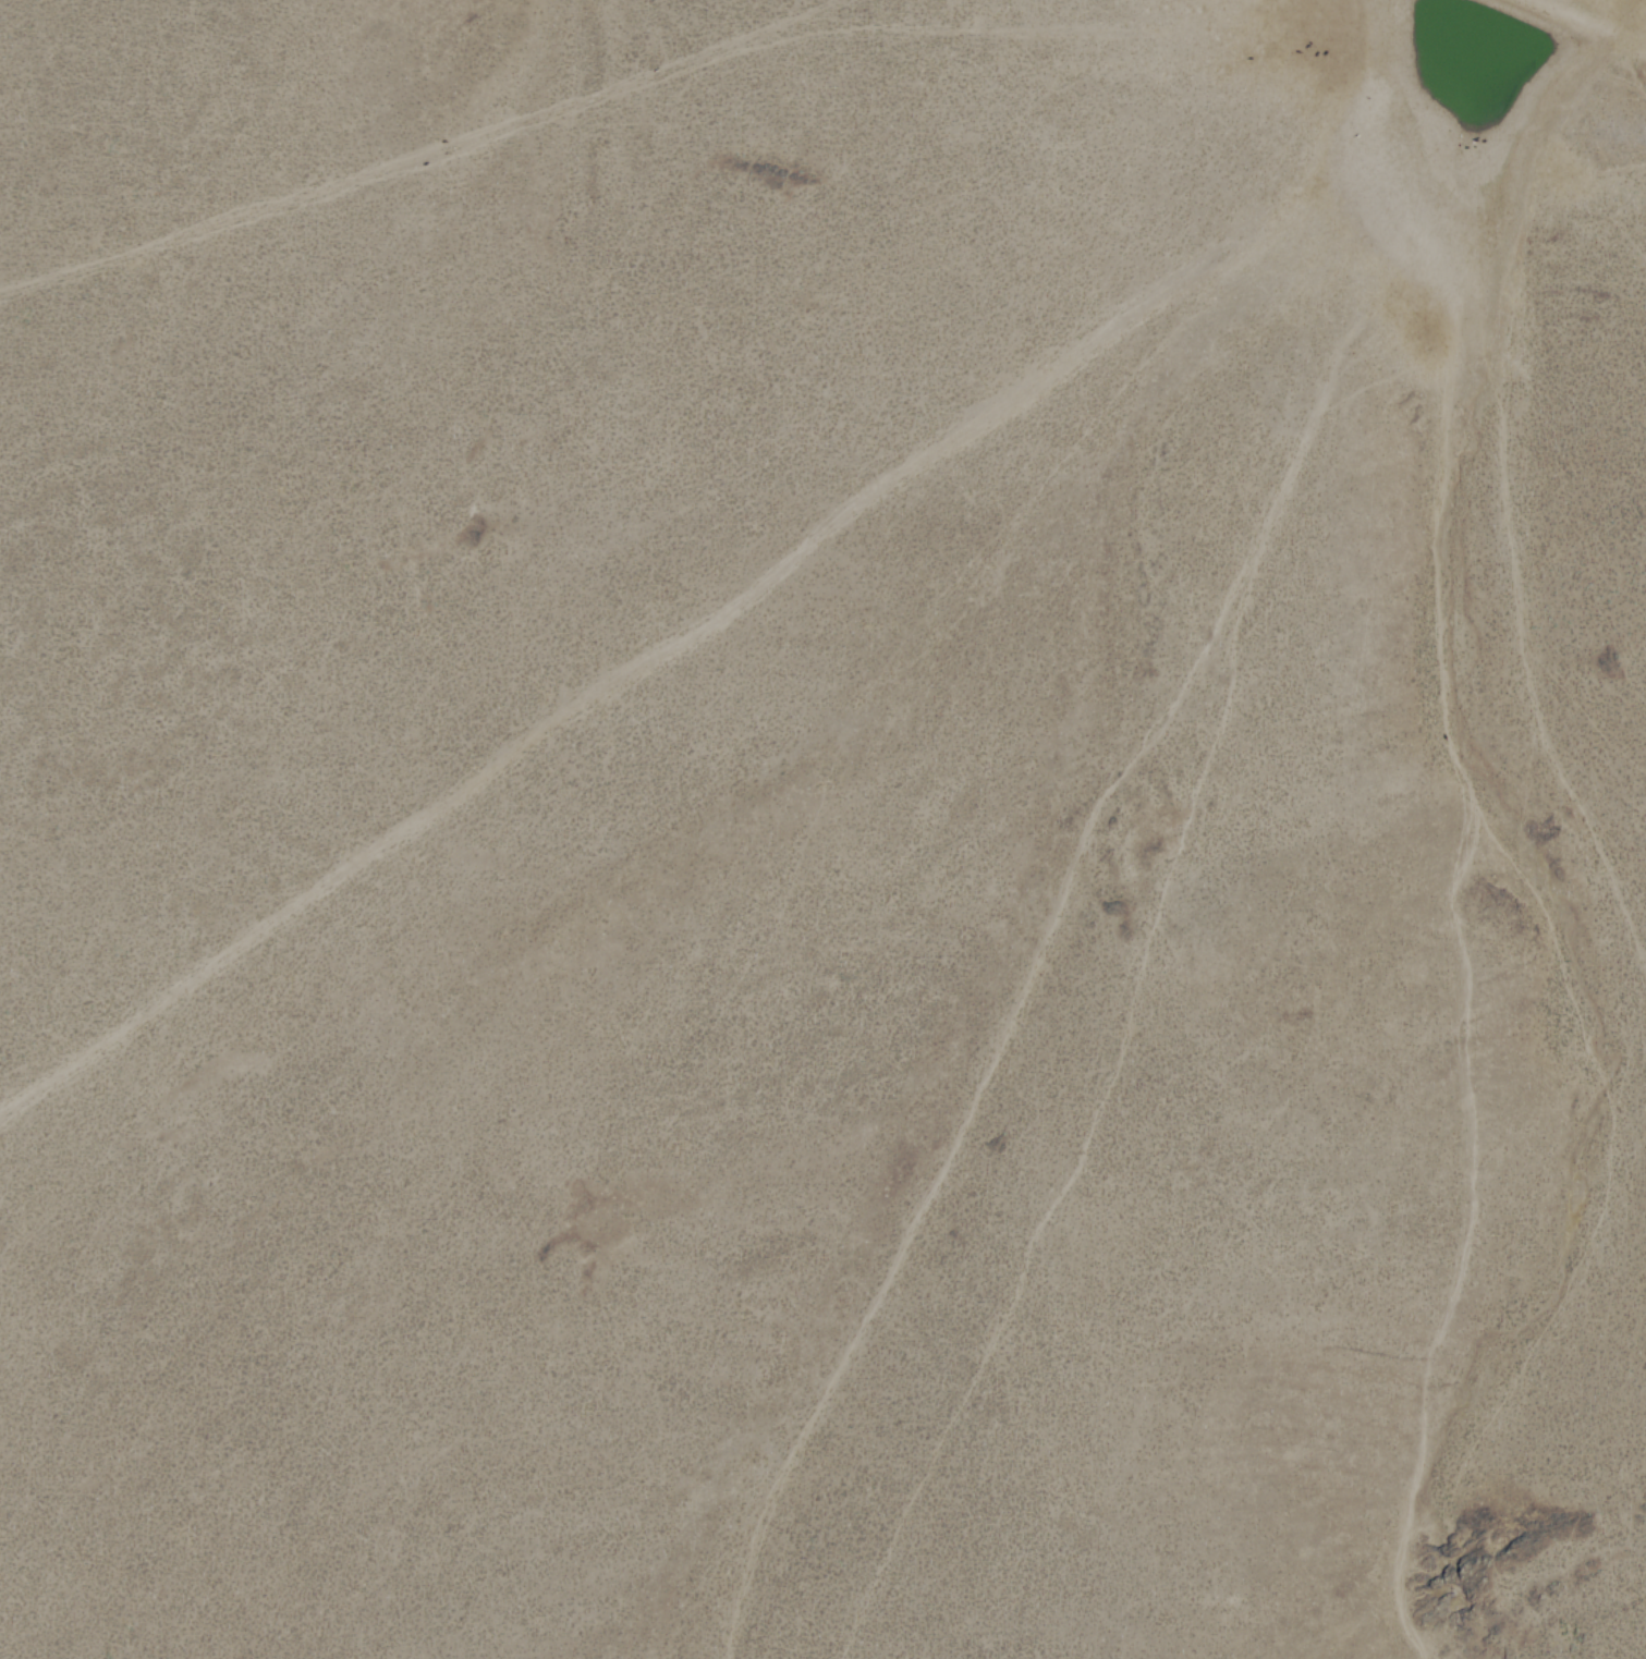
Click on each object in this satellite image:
dam: (1570, 23)
road: (427, 159)

